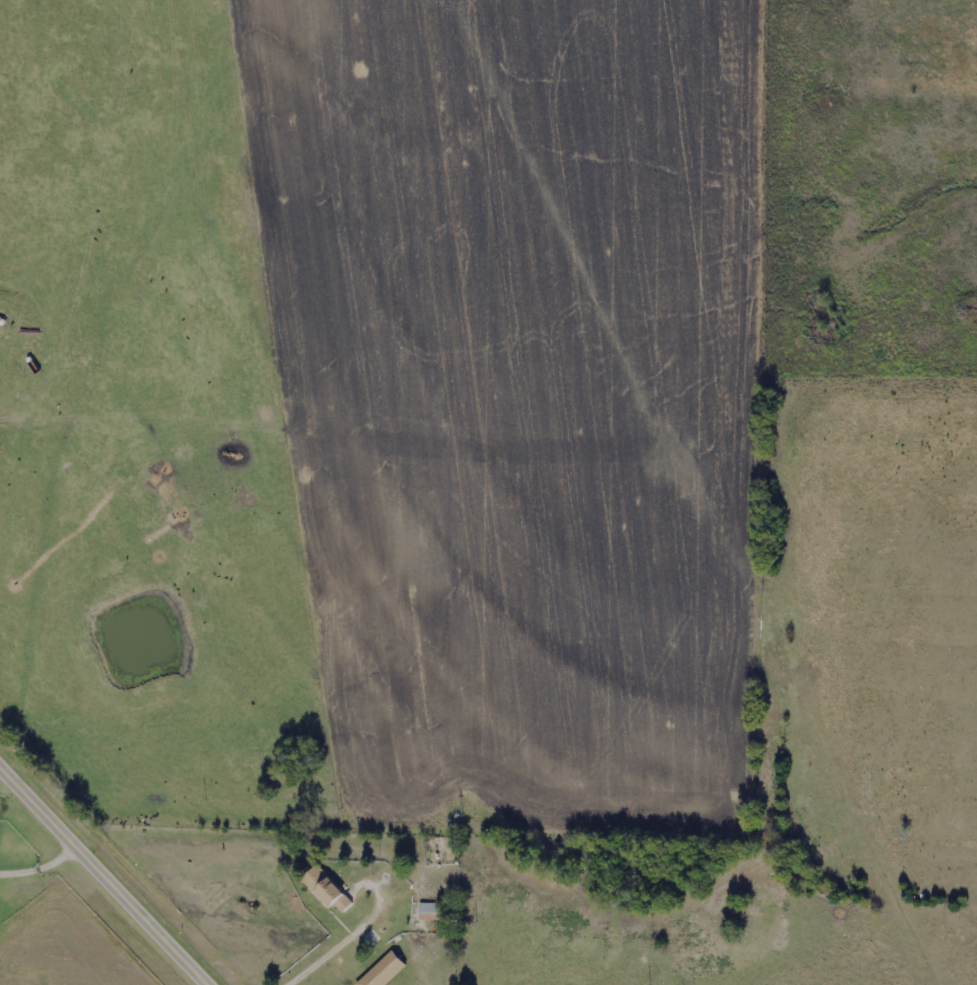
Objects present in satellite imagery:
road: (40, 862)
road: (107, 873)
building: (330, 891)
building: (431, 913)
building: (371, 939)
road: (326, 944)
building: (385, 970)
road: (279, 984)

